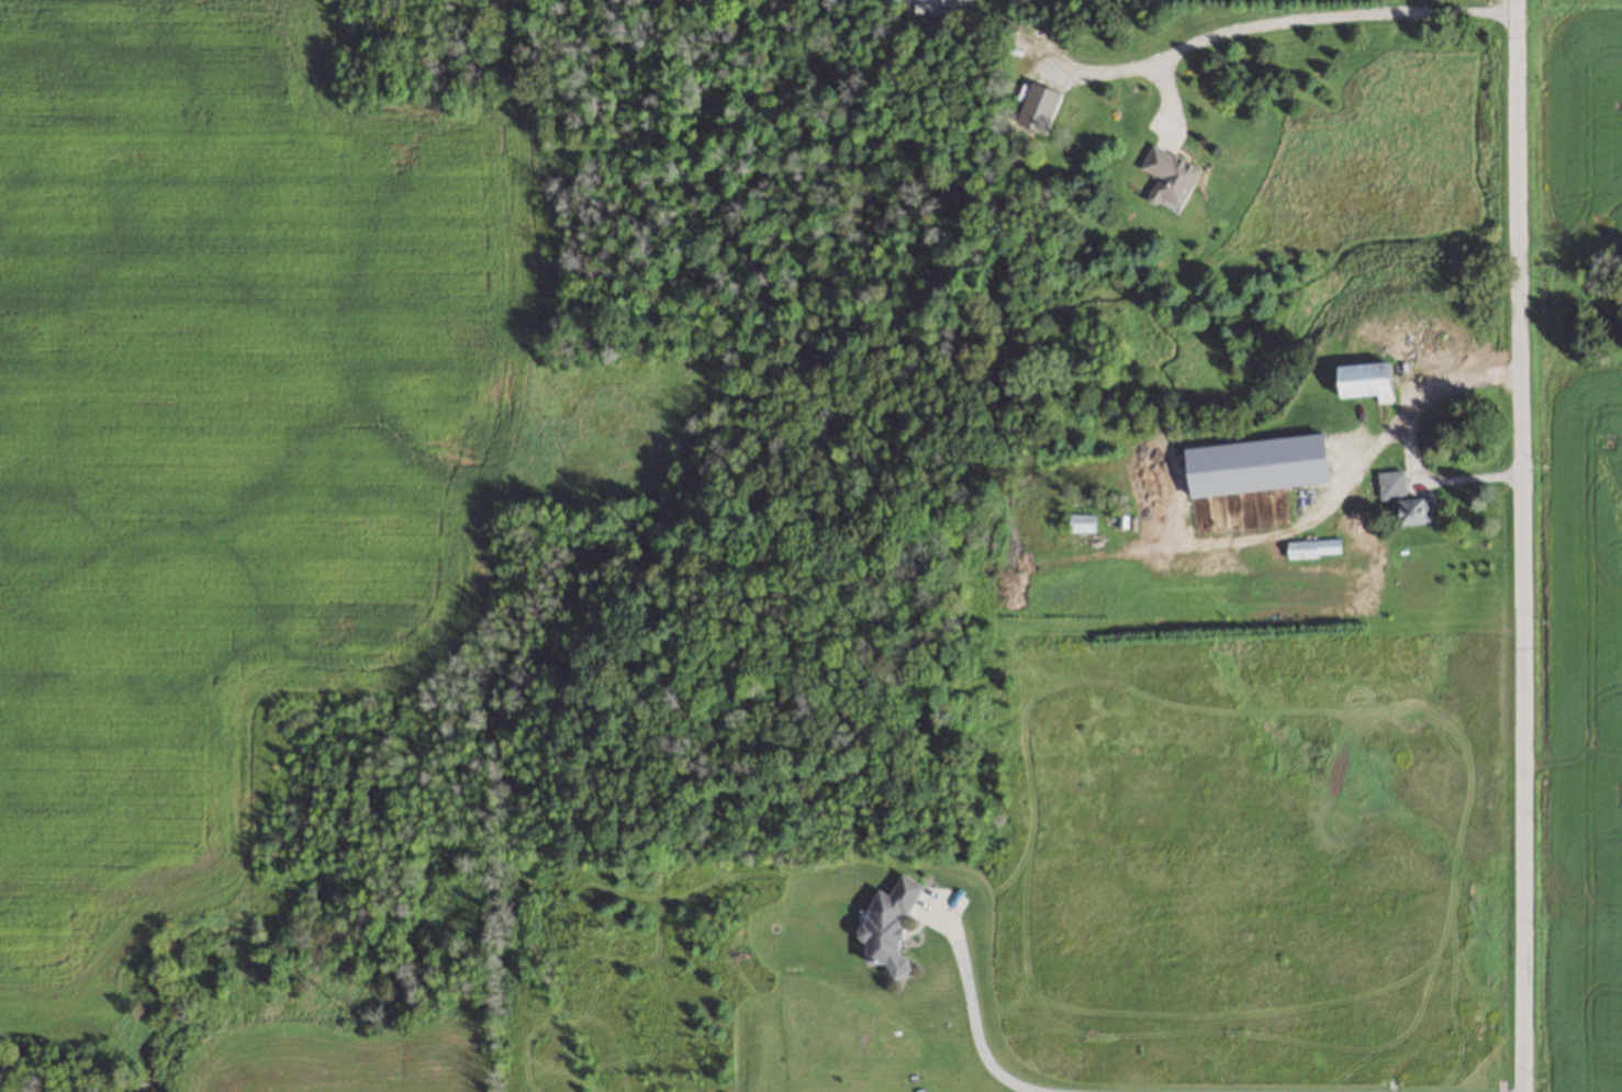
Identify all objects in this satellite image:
road: (1334, 9)
building: (1038, 108)
crop: (1585, 117)
building: (1170, 177)
building: (1366, 380)
road: (1409, 429)
building: (1391, 484)
building: (1410, 511)
building: (1081, 521)
road: (1522, 545)
building: (1312, 547)
crop: (1591, 731)
building: (887, 924)
crop: (377, 1048)

